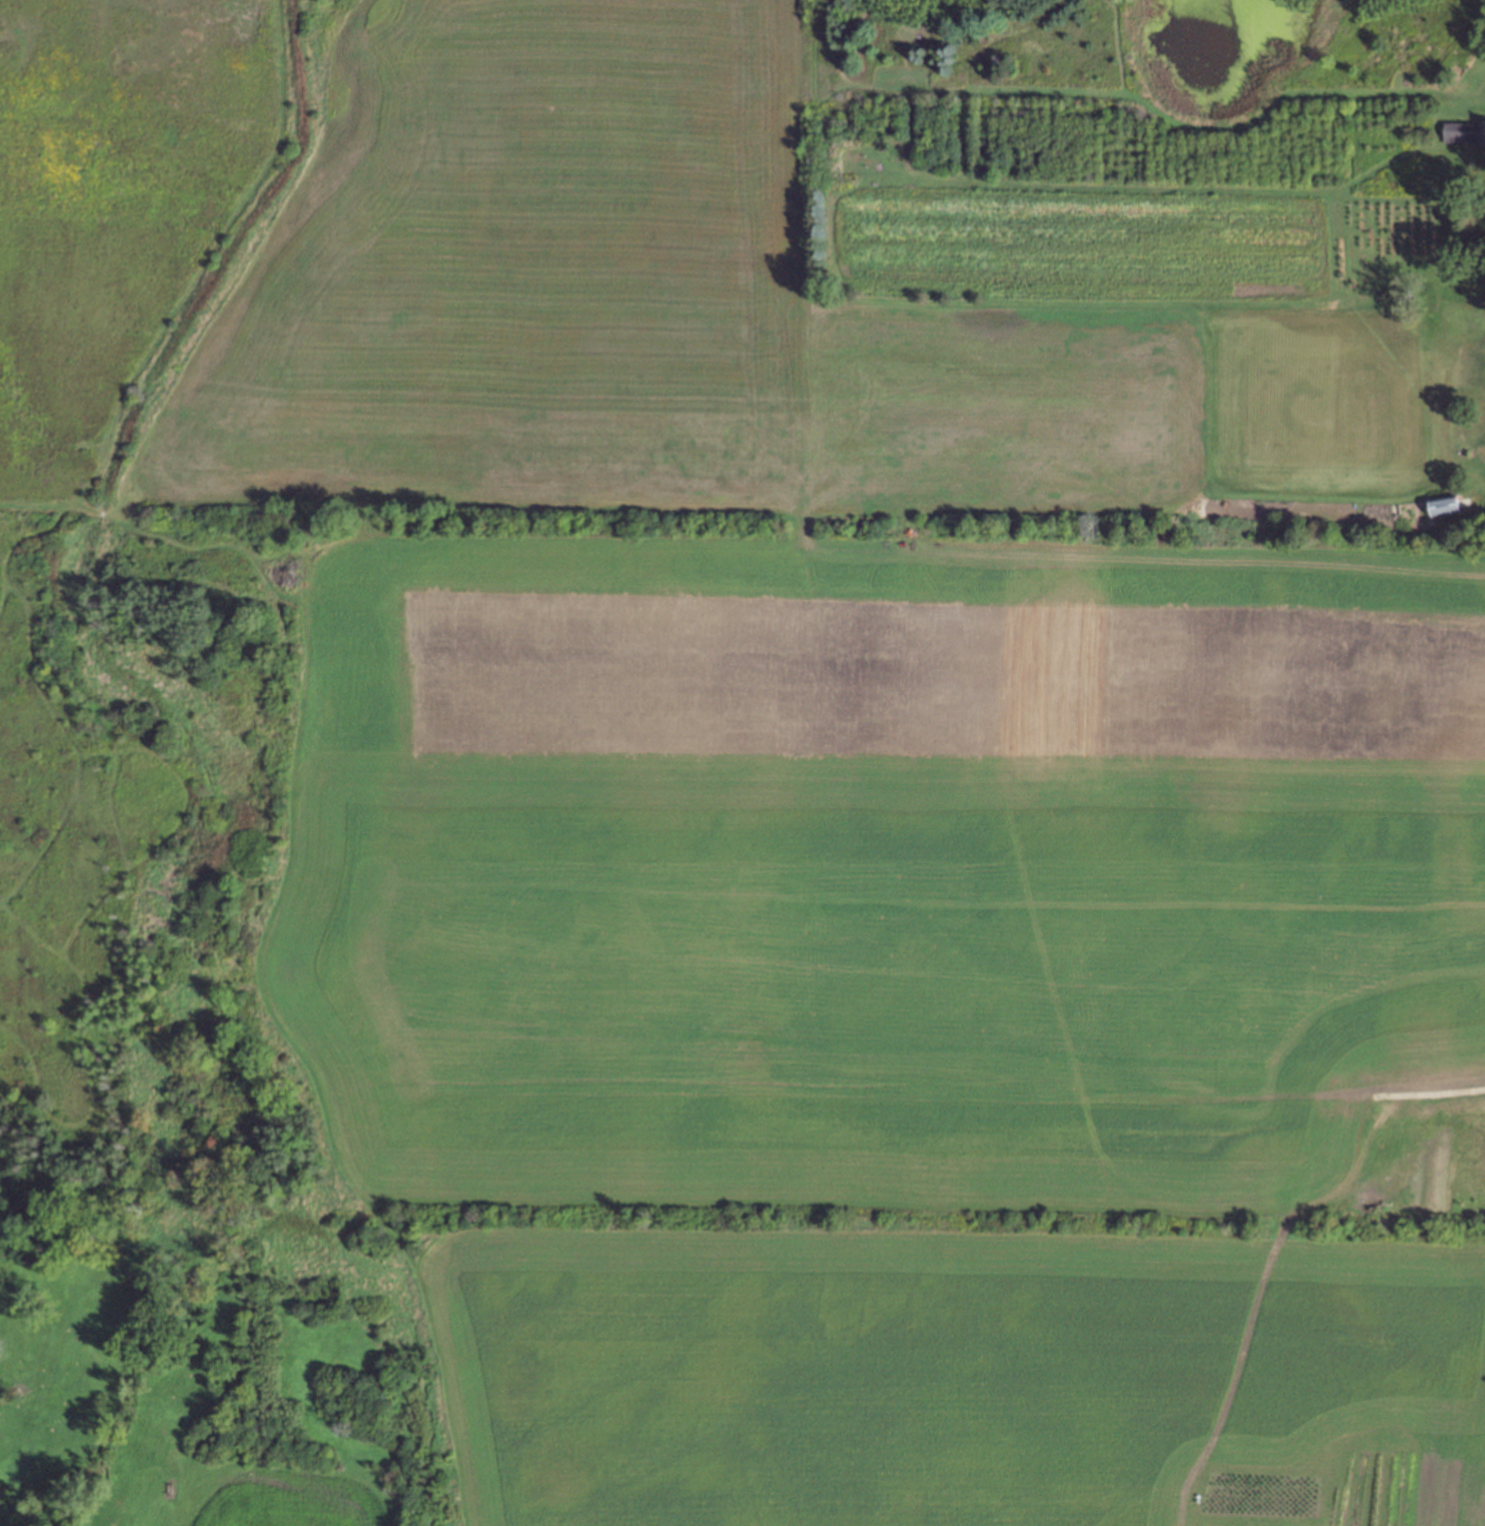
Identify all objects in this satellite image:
building: (1481, 124)
building: (1455, 127)
building: (1441, 503)
crop: (284, 1501)

